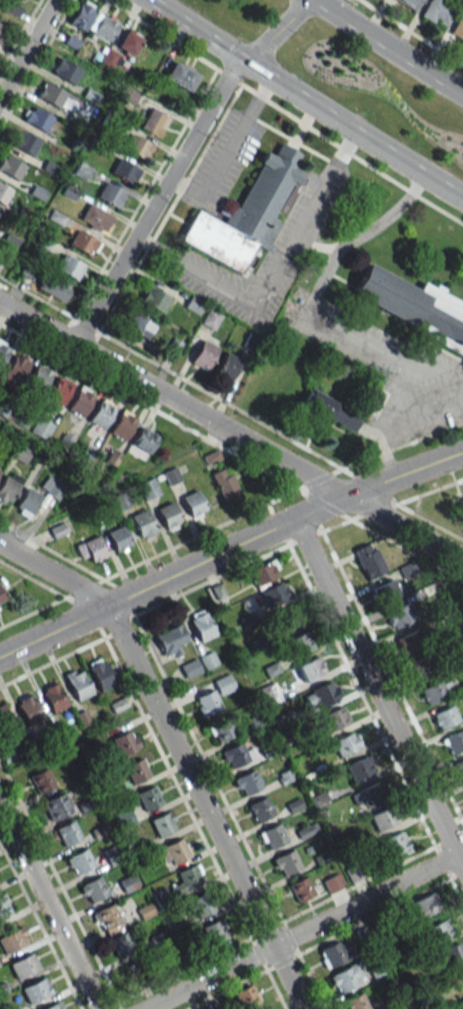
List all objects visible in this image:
building: (27, 0)
building: (409, 3)
building: (438, 12)
building: (82, 15)
building: (104, 27)
building: (457, 29)
road: (192, 32)
building: (2, 33)
building: (128, 42)
road: (388, 46)
road: (27, 48)
building: (64, 70)
building: (180, 76)
building: (50, 94)
building: (36, 118)
building: (152, 121)
road: (352, 131)
building: (24, 143)
building: (137, 146)
road: (228, 152)
road: (184, 160)
building: (10, 166)
building: (125, 171)
road: (318, 192)
building: (3, 193)
building: (110, 194)
building: (263, 197)
building: (96, 218)
building: (83, 242)
road: (157, 249)
building: (70, 267)
building: (53, 287)
road: (238, 295)
building: (154, 299)
road: (307, 306)
building: (414, 307)
building: (210, 319)
building: (139, 325)
building: (3, 350)
building: (203, 355)
building: (227, 366)
building: (15, 369)
building: (38, 378)
building: (58, 390)
building: (80, 401)
building: (331, 410)
building: (101, 414)
building: (122, 425)
building: (41, 428)
road: (231, 432)
building: (144, 440)
building: (224, 483)
building: (8, 487)
building: (148, 489)
building: (27, 502)
building: (194, 504)
building: (460, 507)
building: (168, 516)
building: (143, 525)
building: (118, 538)
building: (91, 548)
road: (229, 549)
building: (366, 561)
building: (263, 573)
building: (388, 590)
building: (274, 594)
building: (1, 599)
building: (400, 615)
building: (287, 618)
building: (201, 624)
building: (170, 640)
building: (407, 642)
building: (299, 643)
building: (189, 668)
building: (309, 668)
building: (418, 668)
building: (100, 673)
building: (77, 683)
building: (223, 684)
road: (382, 686)
building: (435, 691)
building: (322, 695)
building: (53, 697)
building: (207, 702)
building: (28, 709)
building: (445, 717)
building: (335, 719)
building: (224, 728)
building: (6, 736)
building: (454, 741)
building: (124, 742)
building: (345, 744)
road: (177, 752)
building: (237, 753)
building: (459, 767)
building: (359, 769)
building: (137, 771)
building: (41, 781)
building: (247, 782)
building: (367, 794)
building: (148, 798)
building: (318, 799)
building: (56, 806)
building: (260, 809)
building: (123, 818)
building: (383, 818)
building: (163, 823)
building: (306, 830)
building: (67, 833)
building: (272, 836)
building: (395, 844)
building: (172, 852)
building: (80, 861)
building: (285, 862)
building: (187, 879)
building: (332, 882)
building: (93, 889)
building: (300, 889)
building: (425, 905)
building: (4, 906)
building: (198, 906)
road: (48, 908)
building: (108, 920)
road: (303, 930)
building: (440, 930)
building: (214, 931)
building: (12, 940)
building: (121, 944)
building: (336, 952)
building: (452, 953)
building: (23, 966)
building: (347, 977)
building: (457, 980)
building: (36, 990)
building: (245, 996)
building: (356, 1002)
building: (54, 1006)
building: (459, 1006)
building: (265, 1008)

